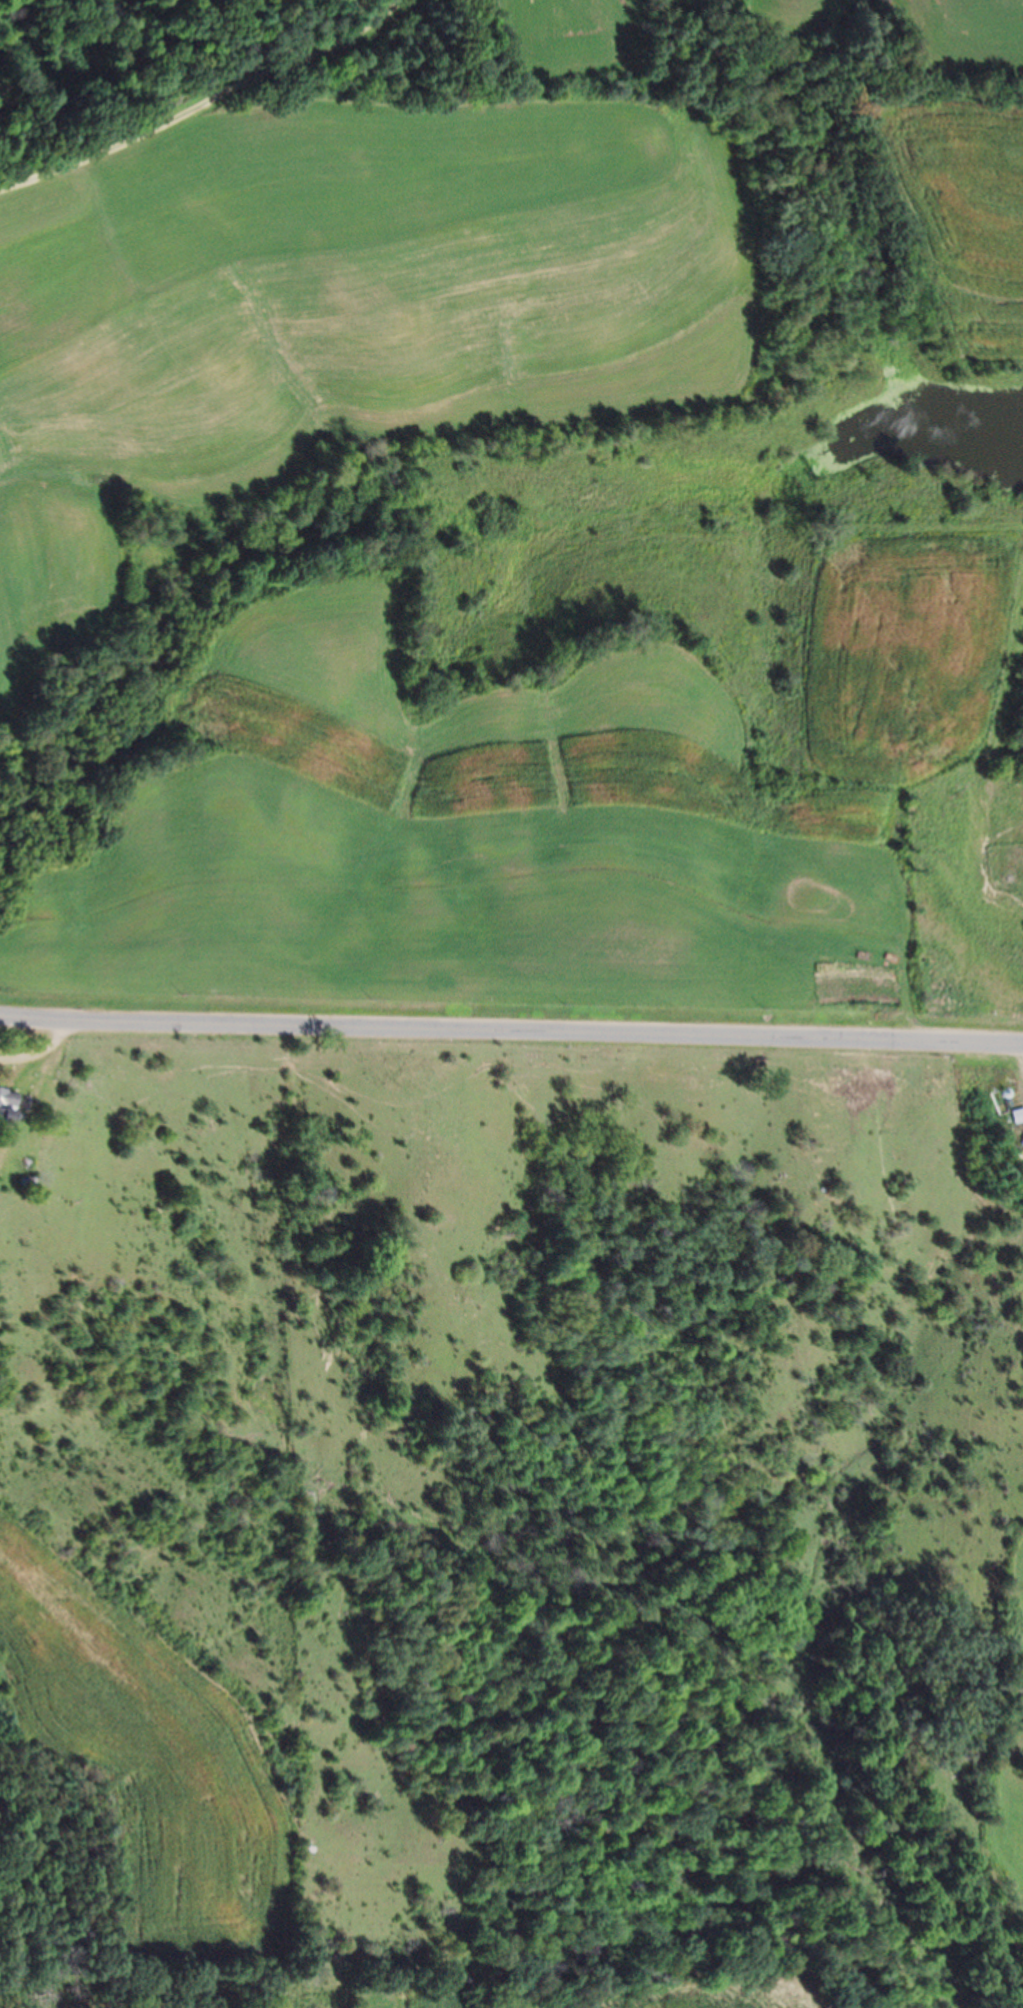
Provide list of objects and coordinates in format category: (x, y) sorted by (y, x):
road: (204, 100)
road: (511, 1032)
building: (7, 1106)

